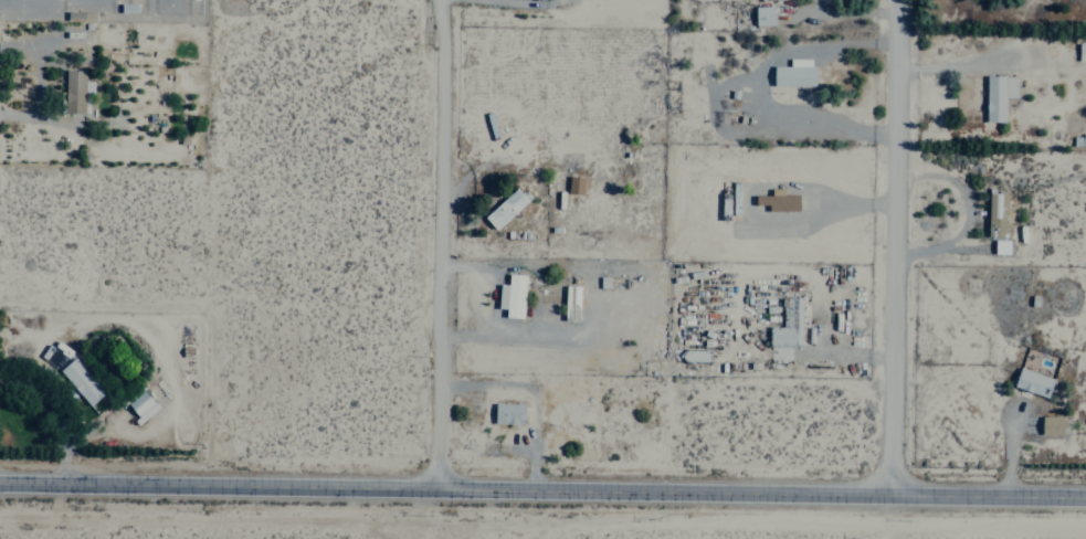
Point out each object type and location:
building: (762, 15)
building: (794, 73)
building: (75, 92)
building: (998, 96)
building: (1078, 140)
building: (574, 183)
building: (776, 199)
building: (505, 207)
building: (787, 208)
building: (997, 211)
road: (441, 242)
building: (1001, 246)
road: (890, 249)
building: (512, 296)
building: (788, 324)
building: (80, 381)
building: (1032, 382)
building: (140, 404)
building: (507, 412)
building: (1051, 424)
road: (542, 488)

